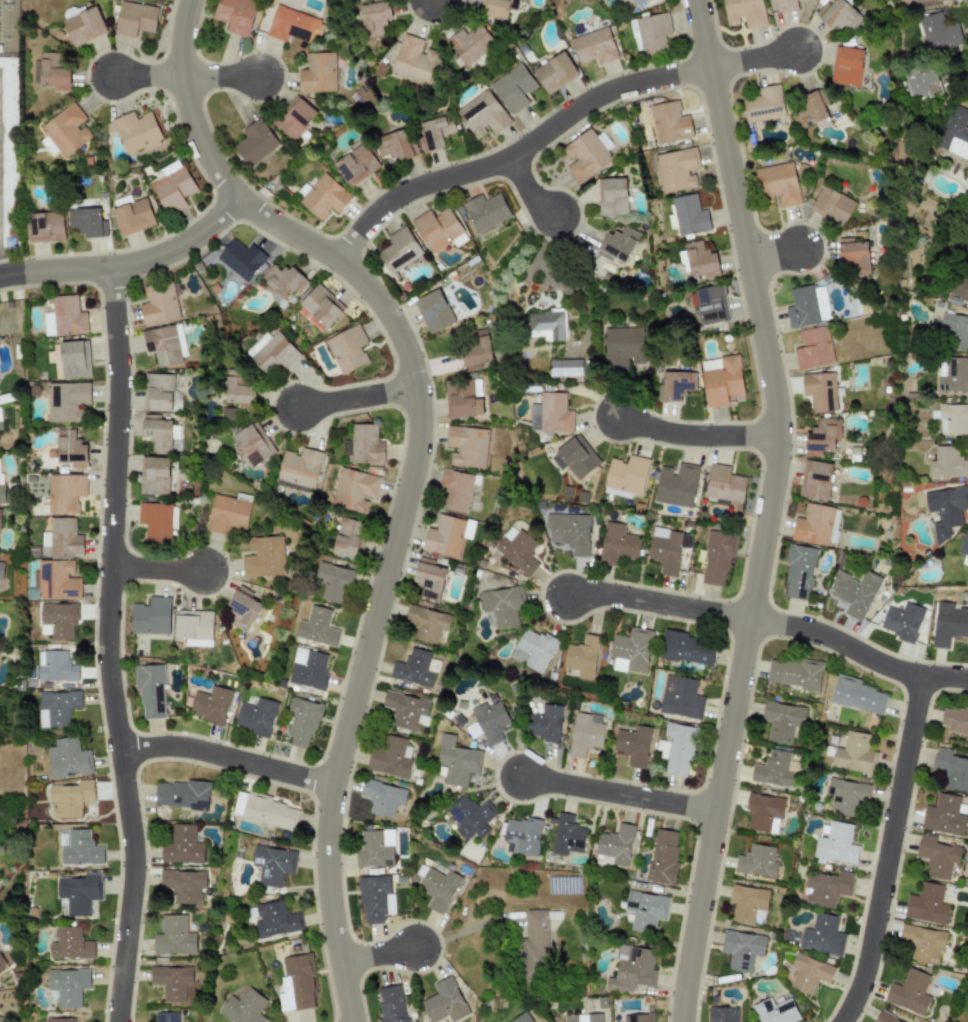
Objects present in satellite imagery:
building: (638, 1)
building: (931, 2)
building: (785, 5)
building: (499, 7)
building: (743, 13)
building: (236, 15)
building: (838, 15)
building: (374, 18)
building: (134, 19)
building: (294, 25)
power substation: (10, 26)
building: (84, 26)
building: (939, 32)
building: (469, 44)
building: (594, 46)
road: (751, 59)
building: (414, 61)
building: (846, 66)
building: (52, 72)
building: (317, 73)
building: (555, 73)
road: (146, 76)
road: (219, 76)
building: (922, 82)
building: (513, 88)
building: (764, 104)
building: (809, 109)
building: (481, 116)
building: (295, 118)
building: (669, 122)
building: (65, 131)
building: (136, 132)
building: (435, 132)
building: (955, 133)
building: (255, 142)
building: (394, 147)
building: (12, 152)
road: (514, 152)
building: (585, 155)
building: (356, 165)
building: (676, 170)
building: (777, 184)
building: (172, 186)
road: (526, 188)
building: (323, 197)
building: (612, 197)
building: (832, 205)
building: (485, 211)
building: (687, 215)
building: (133, 216)
building: (87, 222)
building: (45, 227)
building: (438, 228)
building: (399, 250)
building: (853, 251)
road: (771, 253)
building: (241, 259)
building: (698, 259)
road: (129, 262)
building: (282, 281)
building: (960, 286)
building: (158, 304)
building: (710, 304)
building: (806, 306)
building: (319, 307)
building: (433, 311)
building: (64, 317)
building: (547, 325)
building: (954, 331)
building: (165, 345)
building: (623, 347)
building: (812, 348)
building: (347, 349)
building: (476, 349)
building: (272, 352)
building: (70, 359)
building: (565, 368)
building: (951, 375)
building: (721, 380)
building: (674, 385)
building: (237, 389)
building: (819, 391)
road: (355, 397)
building: (461, 400)
building: (66, 401)
building: (551, 413)
building: (0, 414)
building: (953, 419)
building: (159, 433)
road: (695, 435)
building: (822, 436)
building: (253, 444)
building: (363, 445)
building: (466, 446)
building: (70, 448)
building: (577, 456)
building: (947, 463)
road: (412, 468)
building: (299, 469)
building: (626, 474)
building: (154, 476)
building: (815, 480)
building: (723, 484)
building: (676, 485)
building: (354, 489)
building: (455, 491)
building: (2, 493)
building: (65, 493)
road: (767, 510)
building: (945, 510)
building: (227, 514)
building: (0, 519)
building: (157, 521)
building: (812, 524)
building: (833, 528)
building: (569, 532)
building: (444, 536)
building: (61, 538)
building: (348, 538)
building: (617, 544)
building: (517, 549)
building: (665, 549)
building: (964, 549)
building: (263, 557)
building: (717, 558)
building: (1, 569)
road: (155, 569)
building: (798, 571)
building: (429, 578)
building: (57, 580)
building: (332, 582)
building: (854, 592)
road: (656, 602)
building: (502, 606)
building: (242, 610)
building: (151, 616)
building: (58, 620)
building: (902, 621)
building: (427, 623)
building: (947, 624)
building: (194, 627)
building: (317, 627)
road: (106, 645)
building: (687, 648)
building: (533, 650)
building: (630, 650)
road: (857, 652)
building: (582, 656)
building: (56, 666)
building: (308, 668)
building: (415, 668)
building: (793, 673)
building: (150, 690)
building: (857, 695)
building: (680, 697)
building: (210, 705)
building: (57, 707)
building: (406, 710)
building: (256, 717)
building: (491, 719)
building: (781, 720)
building: (955, 720)
building: (301, 722)
building: (545, 723)
building: (584, 735)
building: (633, 745)
building: (676, 749)
building: (854, 753)
building: (389, 757)
building: (67, 758)
road: (225, 758)
building: (457, 761)
building: (773, 769)
building: (951, 769)
building: (182, 794)
road: (617, 794)
building: (846, 795)
building: (383, 798)
building: (70, 799)
building: (270, 813)
building: (763, 813)
building: (943, 816)
building: (470, 817)
building: (567, 835)
building: (520, 836)
building: (615, 844)
building: (836, 844)
building: (182, 845)
building: (81, 848)
building: (375, 849)
road: (887, 850)
building: (937, 856)
building: (663, 857)
building: (756, 861)
building: (272, 864)
building: (184, 885)
building: (438, 888)
building: (826, 888)
building: (79, 892)
building: (375, 898)
building: (747, 903)
building: (926, 904)
building: (645, 910)
building: (275, 919)
building: (822, 935)
building: (174, 937)
building: (923, 942)
building: (534, 943)
building: (69, 944)
building: (741, 949)
road: (376, 954)
building: (2, 963)
building: (631, 969)
building: (809, 973)
building: (171, 981)
building: (296, 983)
building: (67, 987)
building: (909, 992)
building: (444, 1001)
building: (390, 1004)
building: (243, 1007)
building: (775, 1011)
building: (723, 1014)
building: (166, 1017)
building: (638, 1017)
building: (521, 1018)
building: (584, 1018)
building: (884, 1018)
building: (1, 1019)
building: (60, 1020)

